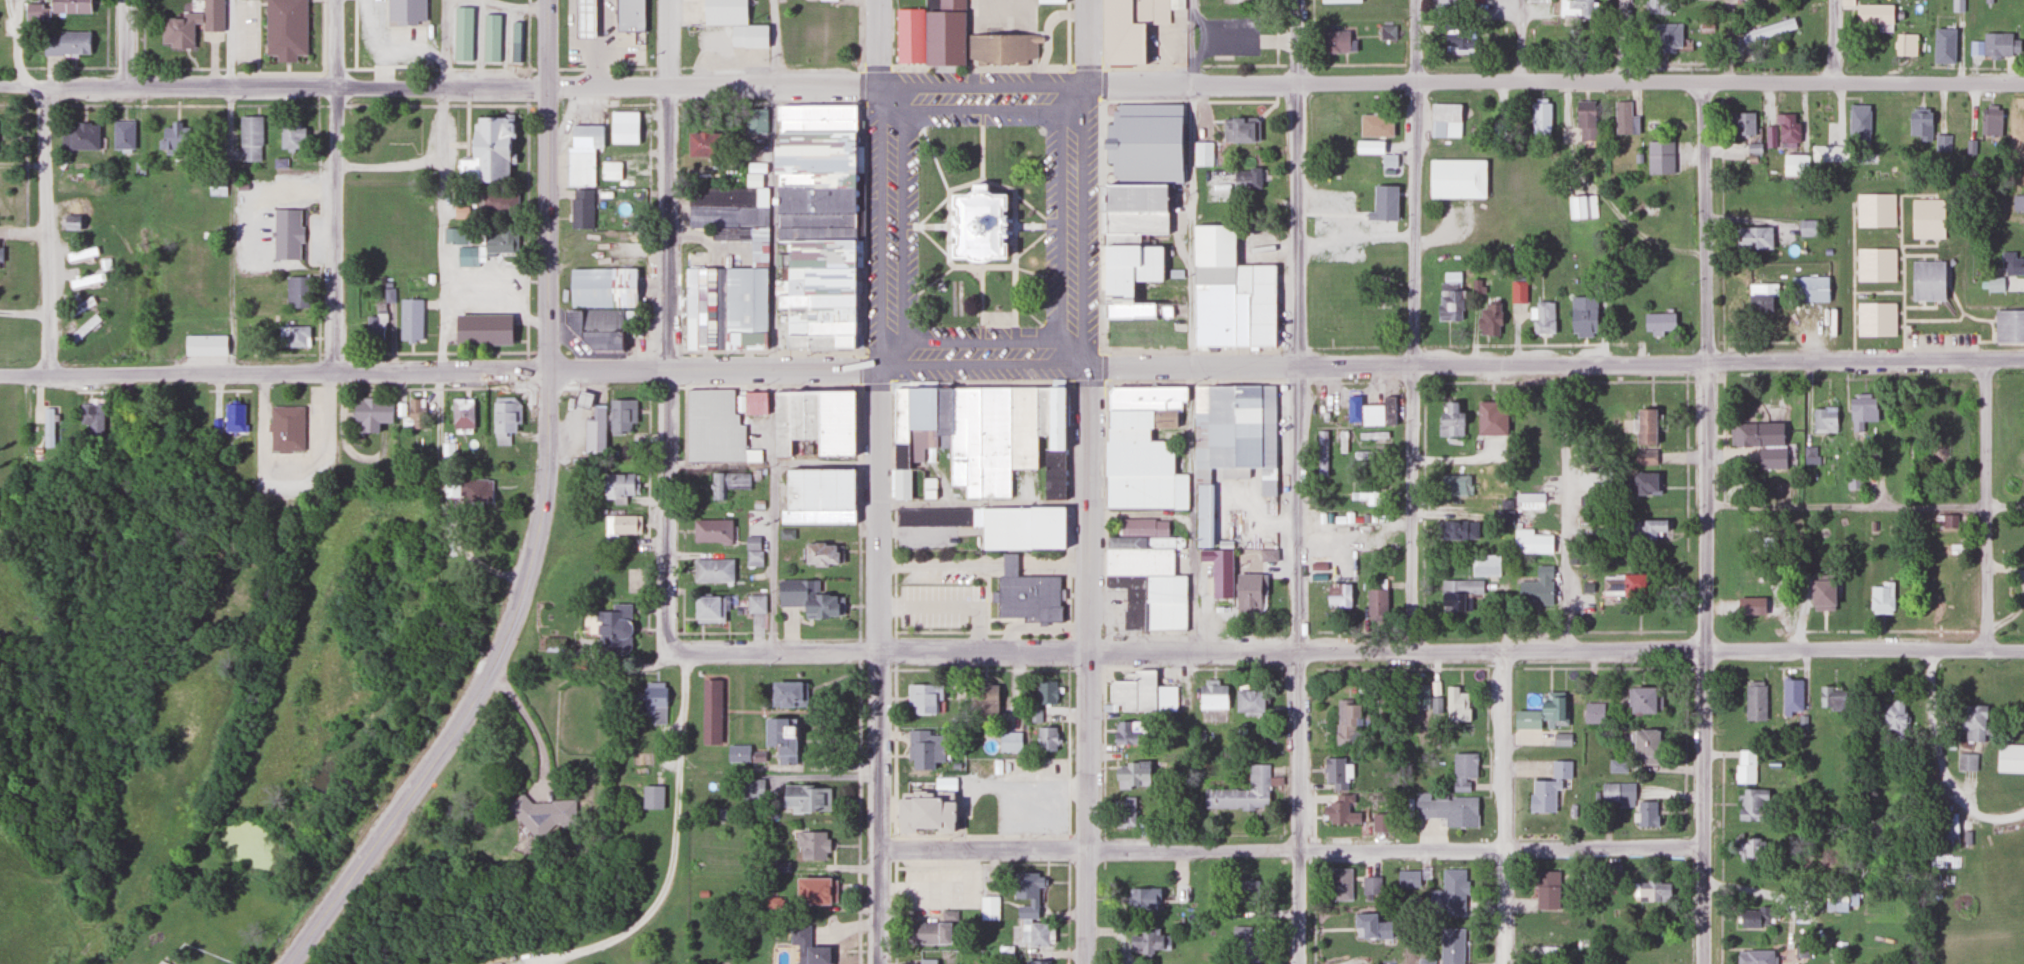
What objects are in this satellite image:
building: (1051, 1)
building: (1339, 1)
building: (1242, 2)
building: (1442, 4)
building: (1655, 7)
building: (1575, 8)
building: (55, 9)
building: (724, 11)
building: (628, 14)
building: (1873, 14)
parking lot: (1001, 15)
building: (584, 18)
gas station: (584, 18)
building: (190, 25)
building: (286, 28)
building: (1767, 31)
building: (1124, 32)
park: (825, 33)
building: (944, 33)
building: (1387, 33)
building: (462, 35)
building: (749, 35)
road: (1068, 35)
road: (1104, 35)
parking lot: (1231, 35)
road: (528, 37)
road: (861, 37)
building: (490, 38)
building: (1662, 38)
building: (515, 41)
road: (773, 41)
road: (1086, 41)
road: (1418, 41)
road: (1519, 41)
road: (1625, 41)
road: (1730, 41)
road: (1835, 41)
road: (123, 42)
road: (547, 42)
road: (669, 42)
road: (879, 42)
road: (1296, 42)
building: (1335, 42)
building: (1457, 42)
road: (230, 43)
road: (334, 43)
building: (66, 44)
road: (17, 45)
building: (1001, 45)
building: (1905, 45)
building: (1943, 46)
building: (2001, 46)
road: (1193, 63)
road: (606, 66)
road: (980, 66)
road: (1086, 66)
road: (411, 67)
road: (546, 68)
road: (863, 68)
road: (877, 68)
road: (650, 70)
road: (1104, 82)
road: (1451, 82)
road: (649, 84)
road: (861, 85)
road: (439, 86)
road: (527, 87)
road: (1191, 100)
road: (606, 102)
road: (666, 102)
road: (769, 102)
road: (191, 104)
road: (336, 104)
road: (440, 104)
road: (547, 104)
building: (821, 110)
building: (1588, 111)
building: (755, 118)
building: (1540, 118)
building: (1622, 118)
building: (1445, 121)
building: (1990, 121)
building: (1858, 122)
building: (821, 123)
building: (1157, 123)
building: (1740, 124)
building: (1374, 126)
building: (1682, 126)
building: (1919, 126)
building: (1239, 129)
building: (624, 130)
building: (1782, 132)
building: (584, 133)
building: (122, 135)
building: (80, 136)
building: (170, 136)
building: (290, 136)
building: (249, 138)
building: (698, 141)
building: (1942, 143)
building: (489, 147)
building: (1135, 149)
road: (981, 151)
building: (1818, 154)
building: (1201, 155)
building: (818, 156)
building: (1659, 158)
building: (579, 165)
road: (22, 166)
building: (1792, 166)
road: (390, 168)
building: (1135, 168)
building: (611, 170)
building: (1457, 177)
building: (1246, 179)
road: (1191, 183)
road: (443, 185)
building: (1137, 188)
building: (291, 192)
road: (948, 193)
building: (818, 196)
building: (2018, 200)
building: (1137, 201)
building: (1383, 201)
building: (499, 202)
road: (1014, 202)
building: (1583, 207)
building: (580, 208)
building: (726, 208)
building: (1874, 210)
building: (819, 217)
building: (1927, 218)
building: (1137, 219)
building: (70, 221)
road: (1103, 221)
building: (979, 223)
park: (980, 223)
road: (949, 224)
road: (1084, 224)
road: (774, 225)
road: (860, 225)
road: (649, 226)
road: (669, 226)
road: (335, 227)
road: (546, 227)
building: (1806, 227)
road: (527, 229)
road: (45, 230)
building: (818, 230)
building: (1122, 236)
building: (1752, 236)
road: (932, 240)
building: (500, 242)
road: (1029, 243)
building: (377, 244)
building: (820, 250)
building: (81, 253)
building: (292, 257)
building: (2011, 263)
road: (1029, 265)
building: (1131, 265)
building: (1875, 265)
road: (1014, 274)
building: (820, 277)
road: (935, 279)
building: (1927, 280)
building: (84, 281)
building: (1994, 284)
building: (603, 285)
building: (1809, 288)
building: (295, 291)
road: (981, 292)
building: (1231, 292)
building: (1518, 292)
building: (745, 296)
building: (819, 297)
building: (1449, 297)
building: (1762, 297)
building: (80, 306)
building: (690, 306)
building: (709, 306)
building: (1127, 306)
road: (997, 312)
road: (23, 313)
building: (1582, 315)
building: (823, 317)
building: (1489, 318)
building: (410, 319)
building: (1543, 319)
building: (1875, 319)
building: (1658, 322)
building: (2009, 325)
building: (373, 327)
building: (484, 327)
building: (595, 327)
building: (82, 329)
road: (1052, 335)
building: (292, 336)
building: (821, 337)
road: (1513, 344)
building: (203, 345)
road: (1355, 345)
road: (1413, 345)
road: (1295, 347)
road: (1103, 348)
road: (1194, 349)
road: (668, 350)
road: (772, 350)
road: (438, 351)
road: (982, 366)
road: (1104, 366)
road: (774, 367)
road: (1415, 367)
road: (1555, 367)
road: (608, 368)
road: (859, 368)
road: (526, 369)
road: (273, 371)
road: (1556, 379)
road: (1195, 380)
road: (1295, 380)
road: (1354, 380)
road: (981, 381)
road: (1087, 381)
road: (1104, 381)
road: (1412, 381)
road: (526, 383)
road: (876, 383)
road: (666, 384)
road: (769, 384)
road: (607, 385)
road: (436, 386)
road: (547, 386)
building: (1146, 395)
building: (752, 403)
building: (1042, 408)
building: (1862, 410)
building: (1370, 411)
building: (190, 412)
building: (370, 412)
building: (798, 412)
building: (812, 412)
building: (461, 413)
building: (413, 414)
building: (621, 415)
building: (944, 415)
building: (1055, 416)
building: (233, 417)
building: (1163, 417)
building: (93, 418)
building: (1488, 418)
building: (503, 419)
building: (922, 419)
building: (1824, 419)
building: (784, 420)
building: (836, 421)
building: (1450, 423)
building: (902, 425)
building: (1023, 425)
building: (1643, 425)
building: (715, 426)
building: (48, 427)
building: (284, 428)
building: (594, 430)
building: (1373, 436)
building: (981, 439)
building: (1231, 440)
building: (1343, 441)
building: (1761, 442)
building: (1322, 452)
building: (1645, 457)
road: (1686, 461)
building: (1140, 462)
building: (1054, 472)
building: (903, 480)
road: (667, 482)
building: (728, 483)
building: (1641, 483)
building: (619, 485)
building: (1455, 485)
building: (465, 489)
building: (821, 490)
building: (1362, 496)
building: (1530, 498)
road: (772, 503)
road: (982, 504)
road: (1068, 507)
road: (1987, 507)
road: (1423, 508)
road: (1864, 508)
road: (1104, 509)
road: (1192, 509)
building: (1504, 513)
building: (818, 515)
building: (934, 516)
building: (1944, 520)
road: (1706, 522)
road: (879, 523)
building: (1142, 524)
road: (1299, 524)
building: (621, 525)
building: (1021, 527)
building: (1652, 529)
building: (711, 530)
building: (1456, 530)
building: (1145, 540)
building: (1540, 543)
building: (753, 551)
building: (822, 553)
building: (1267, 556)
building: (1141, 559)
building: (1219, 564)
building: (1485, 565)
road: (940, 567)
road: (1008, 568)
road: (1050, 568)
building: (711, 570)
building: (1622, 584)
building: (1747, 587)
building: (1536, 588)
building: (1250, 590)
building: (1026, 593)
building: (1458, 593)
road: (894, 594)
building: (1820, 594)
building: (1337, 595)
building: (805, 597)
building: (1131, 597)
building: (1880, 597)
building: (1938, 598)
building: (1165, 600)
building: (755, 603)
building: (1376, 603)
building: (708, 608)
building: (611, 628)
road: (667, 628)
road: (894, 633)
road: (894, 649)
road: (1068, 650)
road: (783, 652)
road: (1451, 653)
road: (1086, 665)
road: (1191, 667)
road: (983, 668)
road: (1087, 668)
road: (859, 671)
road: (478, 690)
building: (1133, 691)
building: (788, 692)
building: (1045, 693)
building: (1791, 695)
building: (1212, 696)
building: (928, 697)
building: (1165, 697)
building: (1415, 697)
building: (1831, 697)
building: (1641, 699)
building: (982, 700)
building: (1247, 700)
building: (1754, 700)
building: (654, 701)
building: (1456, 705)
building: (712, 709)
building: (1540, 712)
building: (1593, 713)
building: (1347, 717)
building: (1893, 718)
building: (1973, 722)
building: (780, 733)
building: (1125, 733)
building: (1045, 739)
building: (1561, 739)
building: (1009, 742)
building: (1643, 743)
road: (894, 749)
building: (923, 750)
building: (757, 756)
building: (783, 758)
building: (2009, 758)
building: (1966, 761)
building: (1617, 765)
building: (1745, 766)
road: (1937, 766)
building: (1463, 770)
building: (1131, 773)
building: (1334, 773)
building: (1548, 788)
building: (752, 790)
building: (1246, 790)
building: (1618, 793)
building: (652, 797)
parking lot: (1017, 797)
building: (805, 798)
building: (1751, 804)
building: (1445, 807)
building: (927, 808)
road: (1504, 808)
building: (1339, 810)
building: (544, 813)
building: (1124, 813)
building: (1646, 813)
building: (1377, 823)
building: (1949, 829)
road: (1066, 835)
building: (811, 845)
road: (894, 848)
building: (1750, 848)
road: (1293, 851)
building: (1408, 879)
parking lot: (942, 882)
building: (1339, 884)
building: (1370, 886)
building: (1248, 889)
building: (1546, 889)
building: (814, 890)
building: (1652, 891)
building: (1026, 893)
building: (1449, 895)
building: (1143, 899)
building: (1970, 899)
building: (1839, 901)
building: (988, 909)
road: (894, 911)
building: (1753, 917)
building: (1369, 927)
building: (932, 930)
building: (1038, 934)
building: (1547, 937)
building: (1148, 942)
building: (1245, 945)
building: (1451, 946)
building: (809, 948)
building: (1755, 956)
building: (927, 961)
building: (1036, 962)
building: (160, 963)

